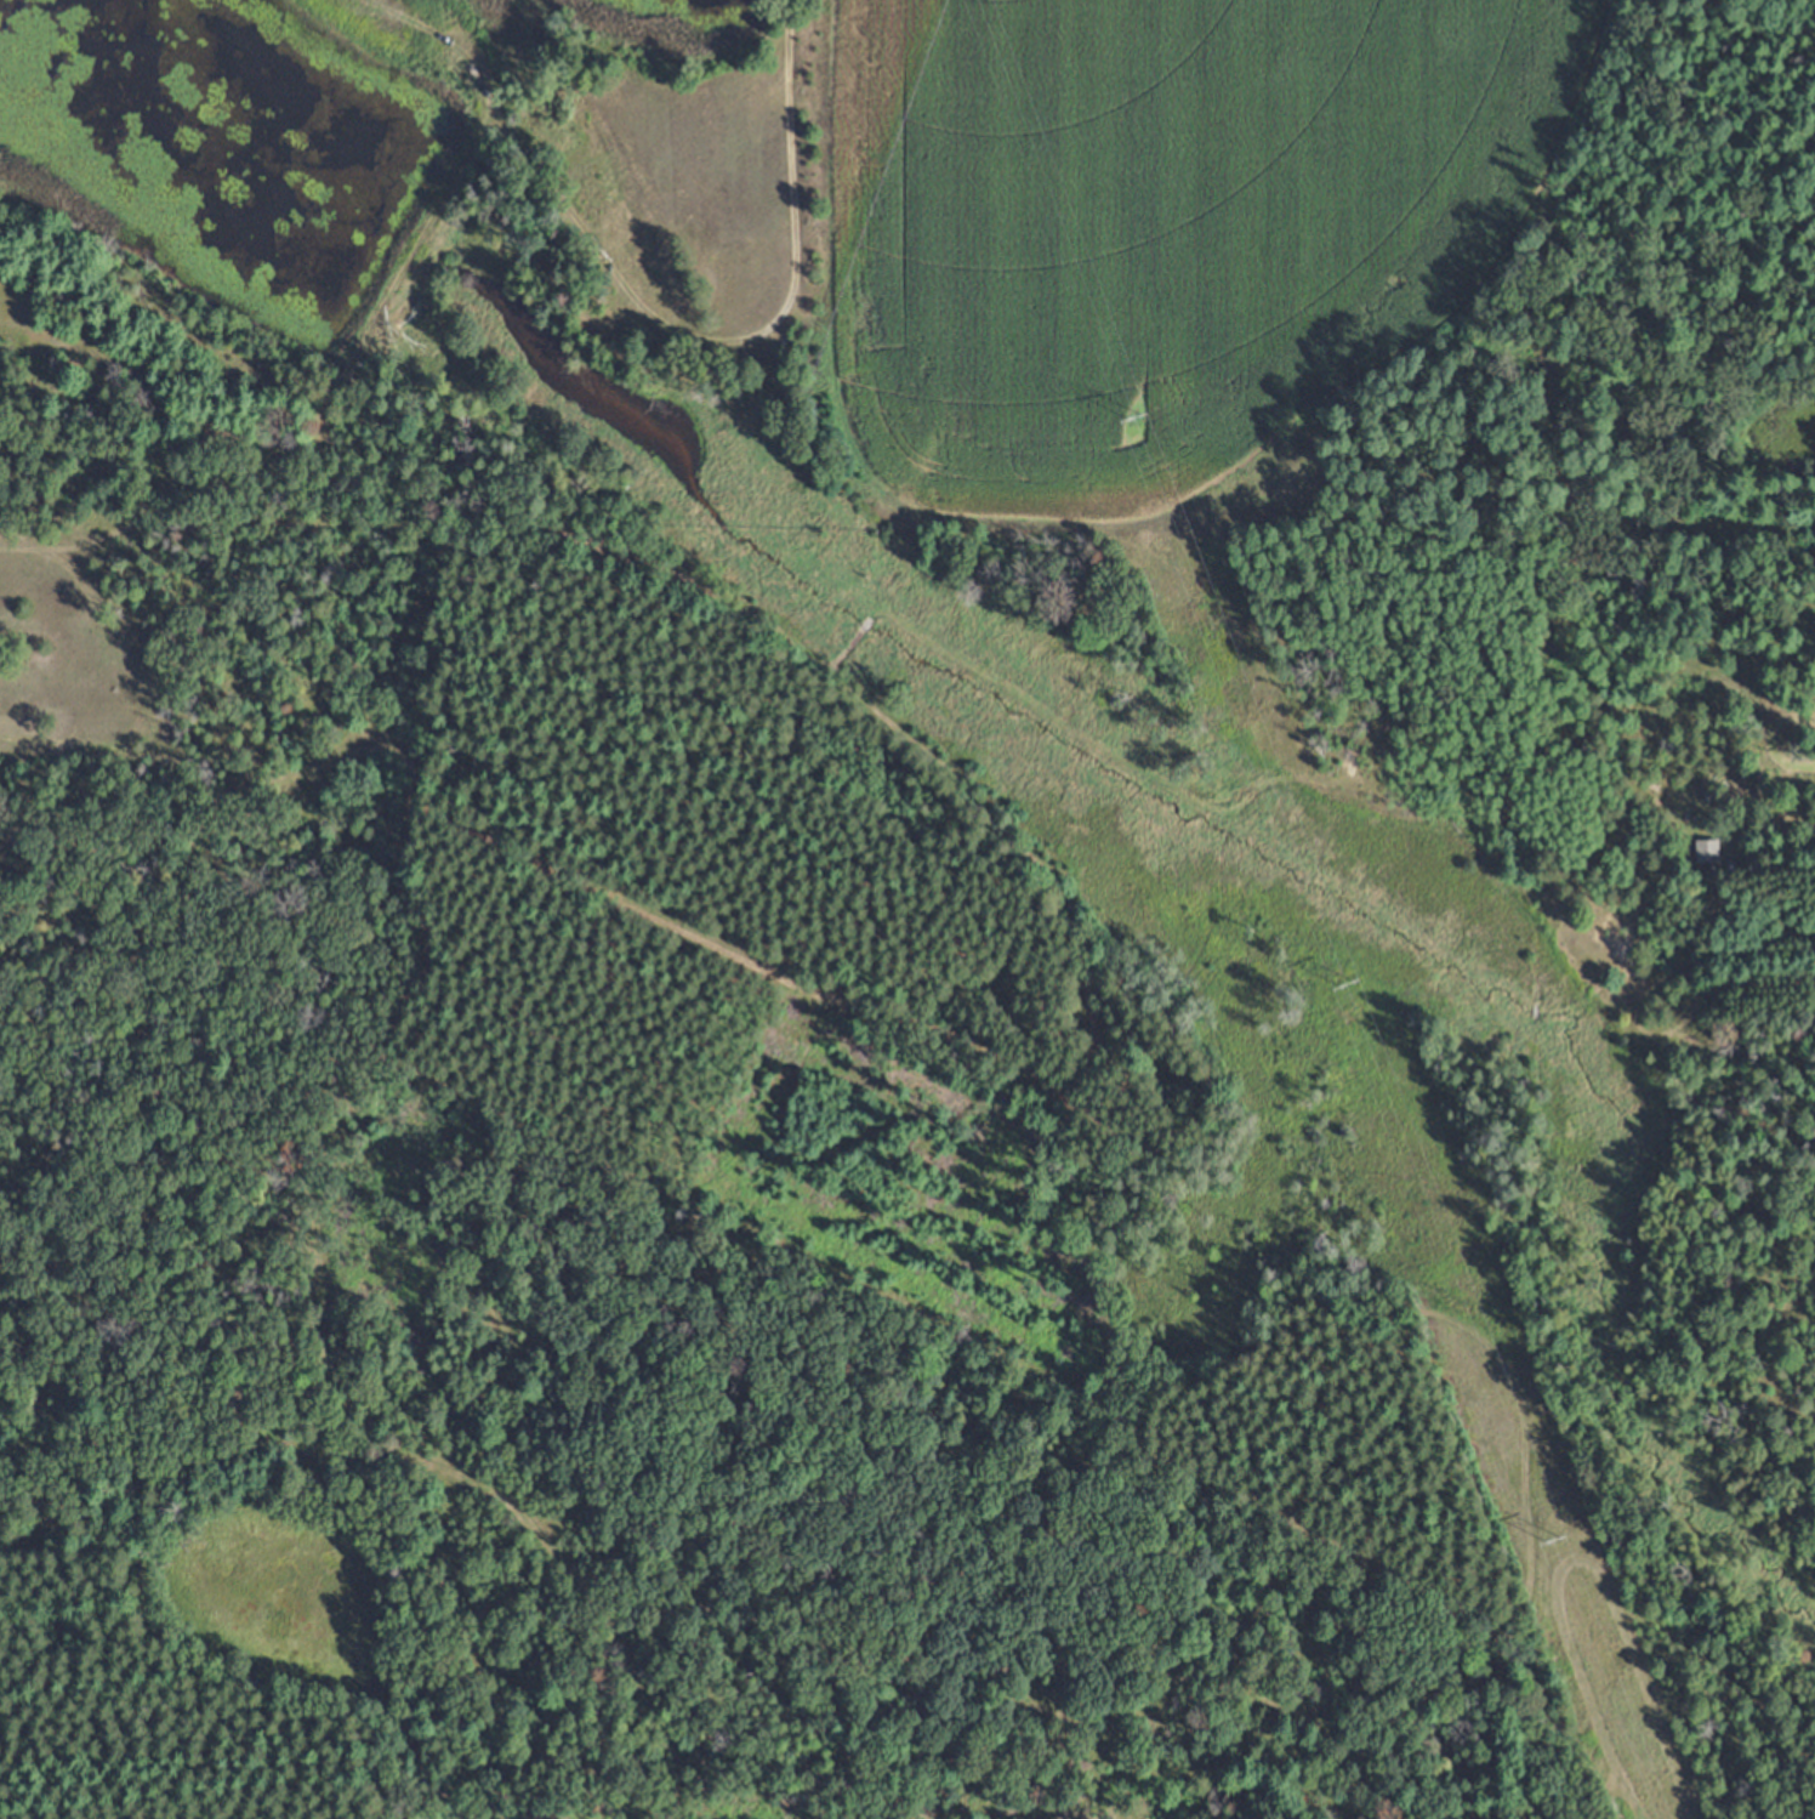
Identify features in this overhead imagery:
building: (1705, 865)
road: (1765, 886)

